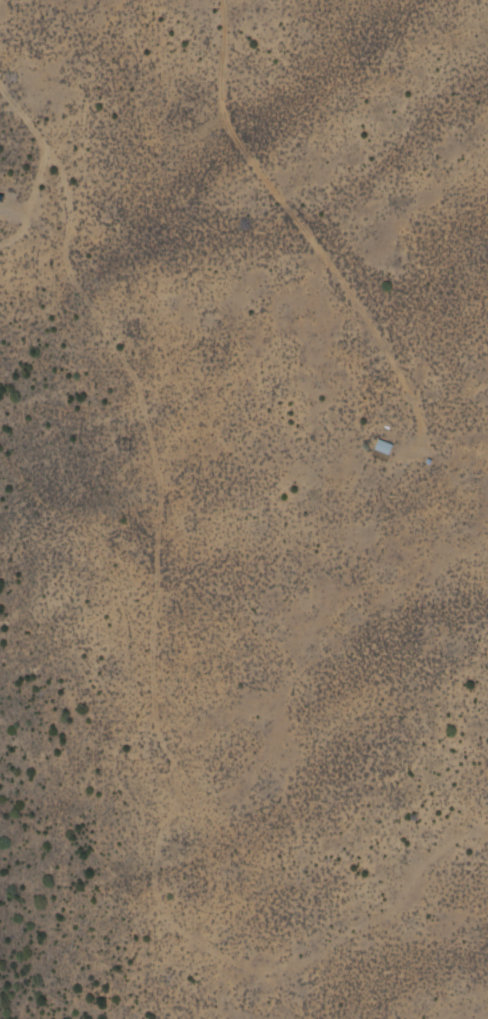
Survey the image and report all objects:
road: (84, 152)
building: (382, 445)

